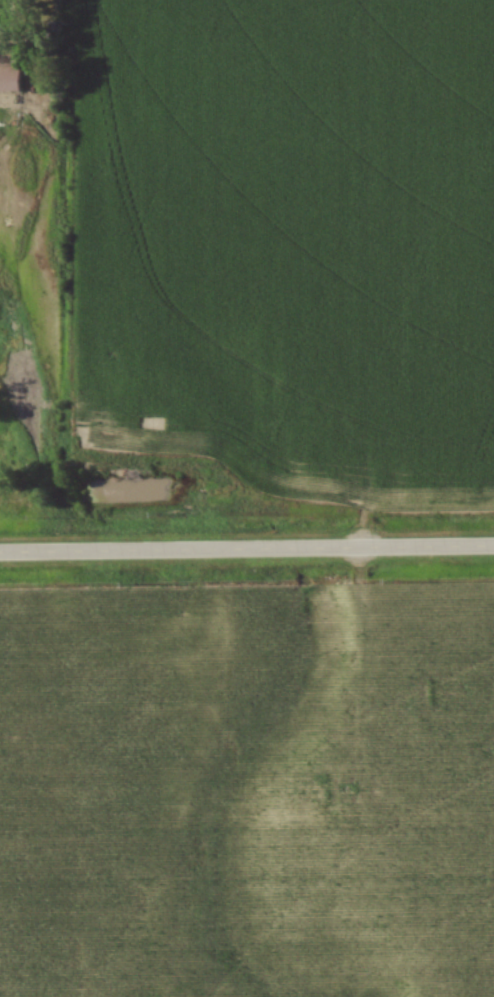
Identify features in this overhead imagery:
building: (0, 26)
building: (8, 82)
crop: (288, 240)
road: (246, 549)
crop: (247, 791)

